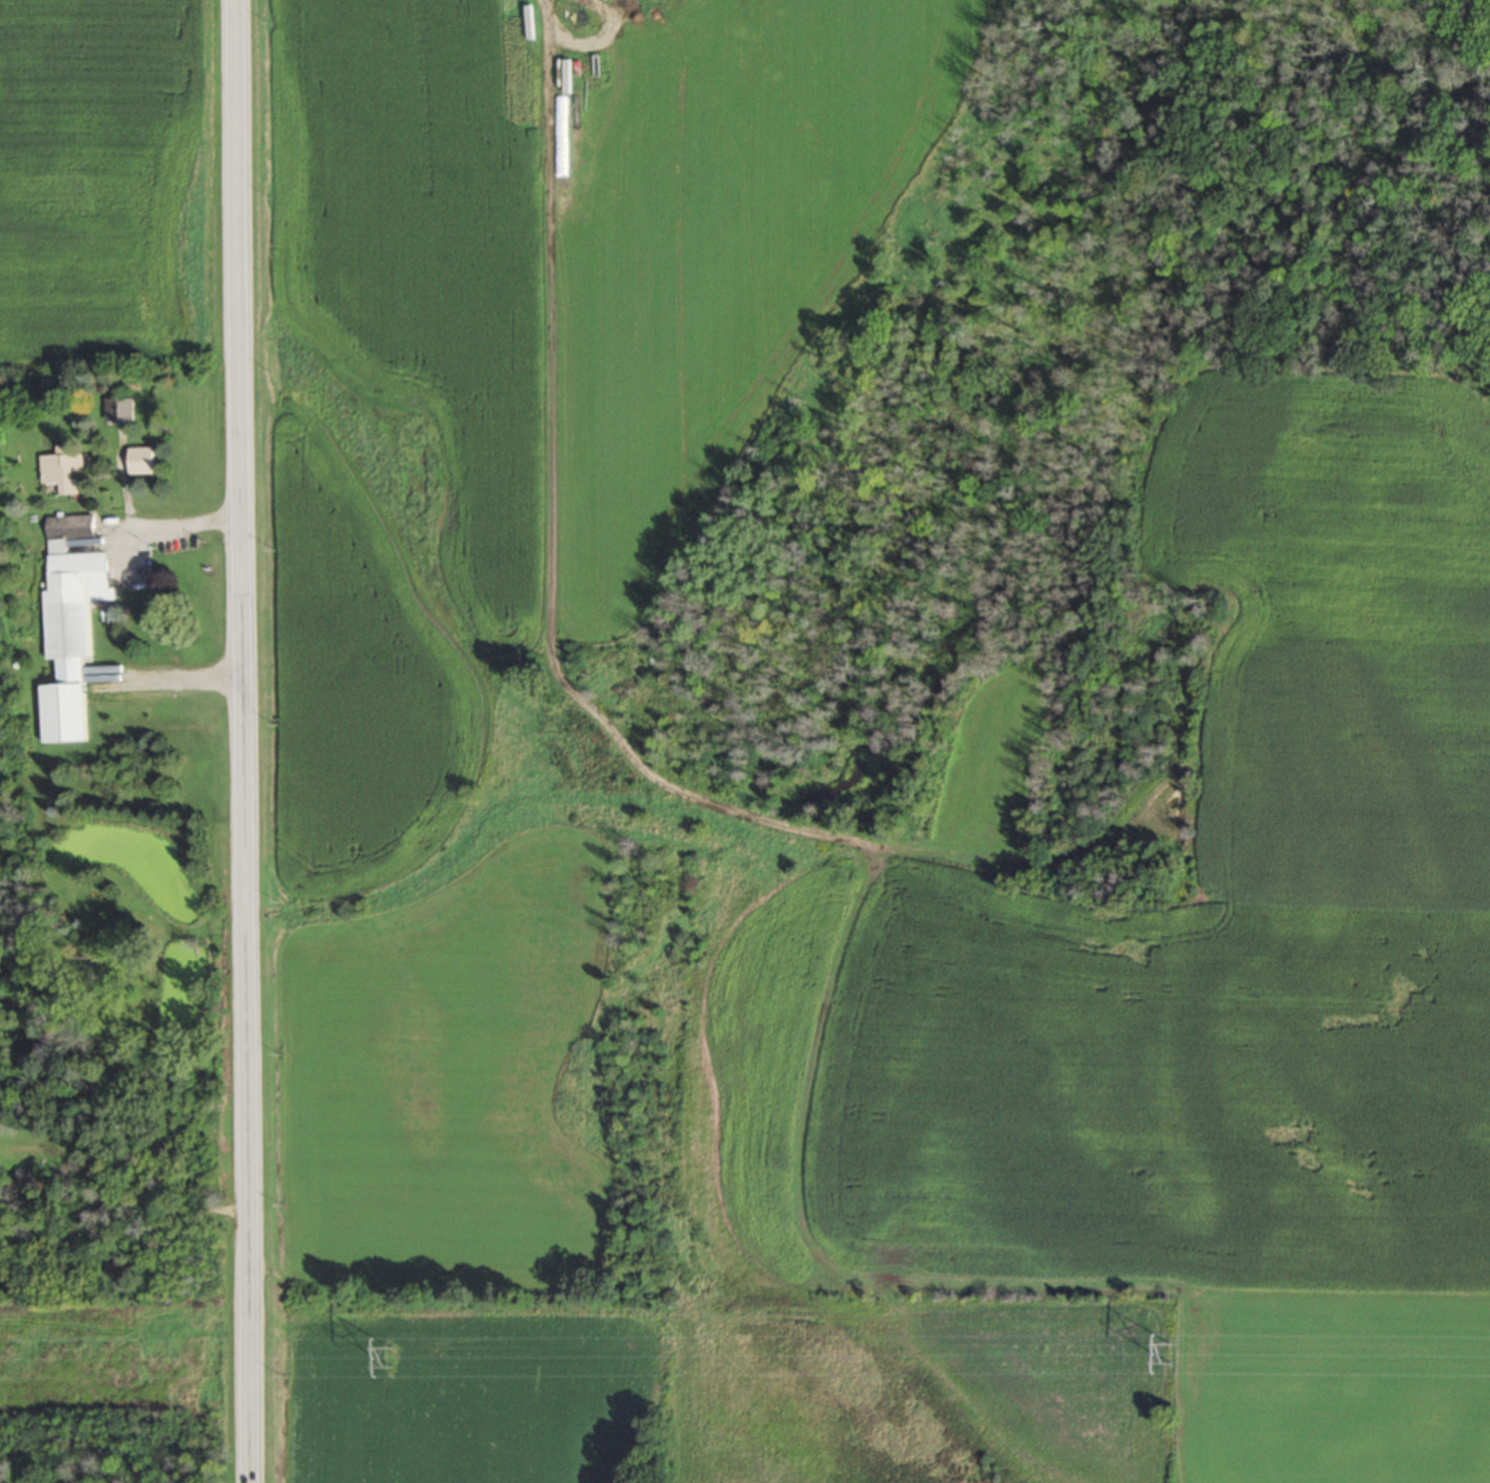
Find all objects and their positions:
building: (117, 408)
building: (62, 469)
road: (175, 525)
building: (69, 620)
road: (174, 679)
road: (243, 741)
building: (21, 1184)
power tower: (1168, 1351)
power tower: (388, 1353)

